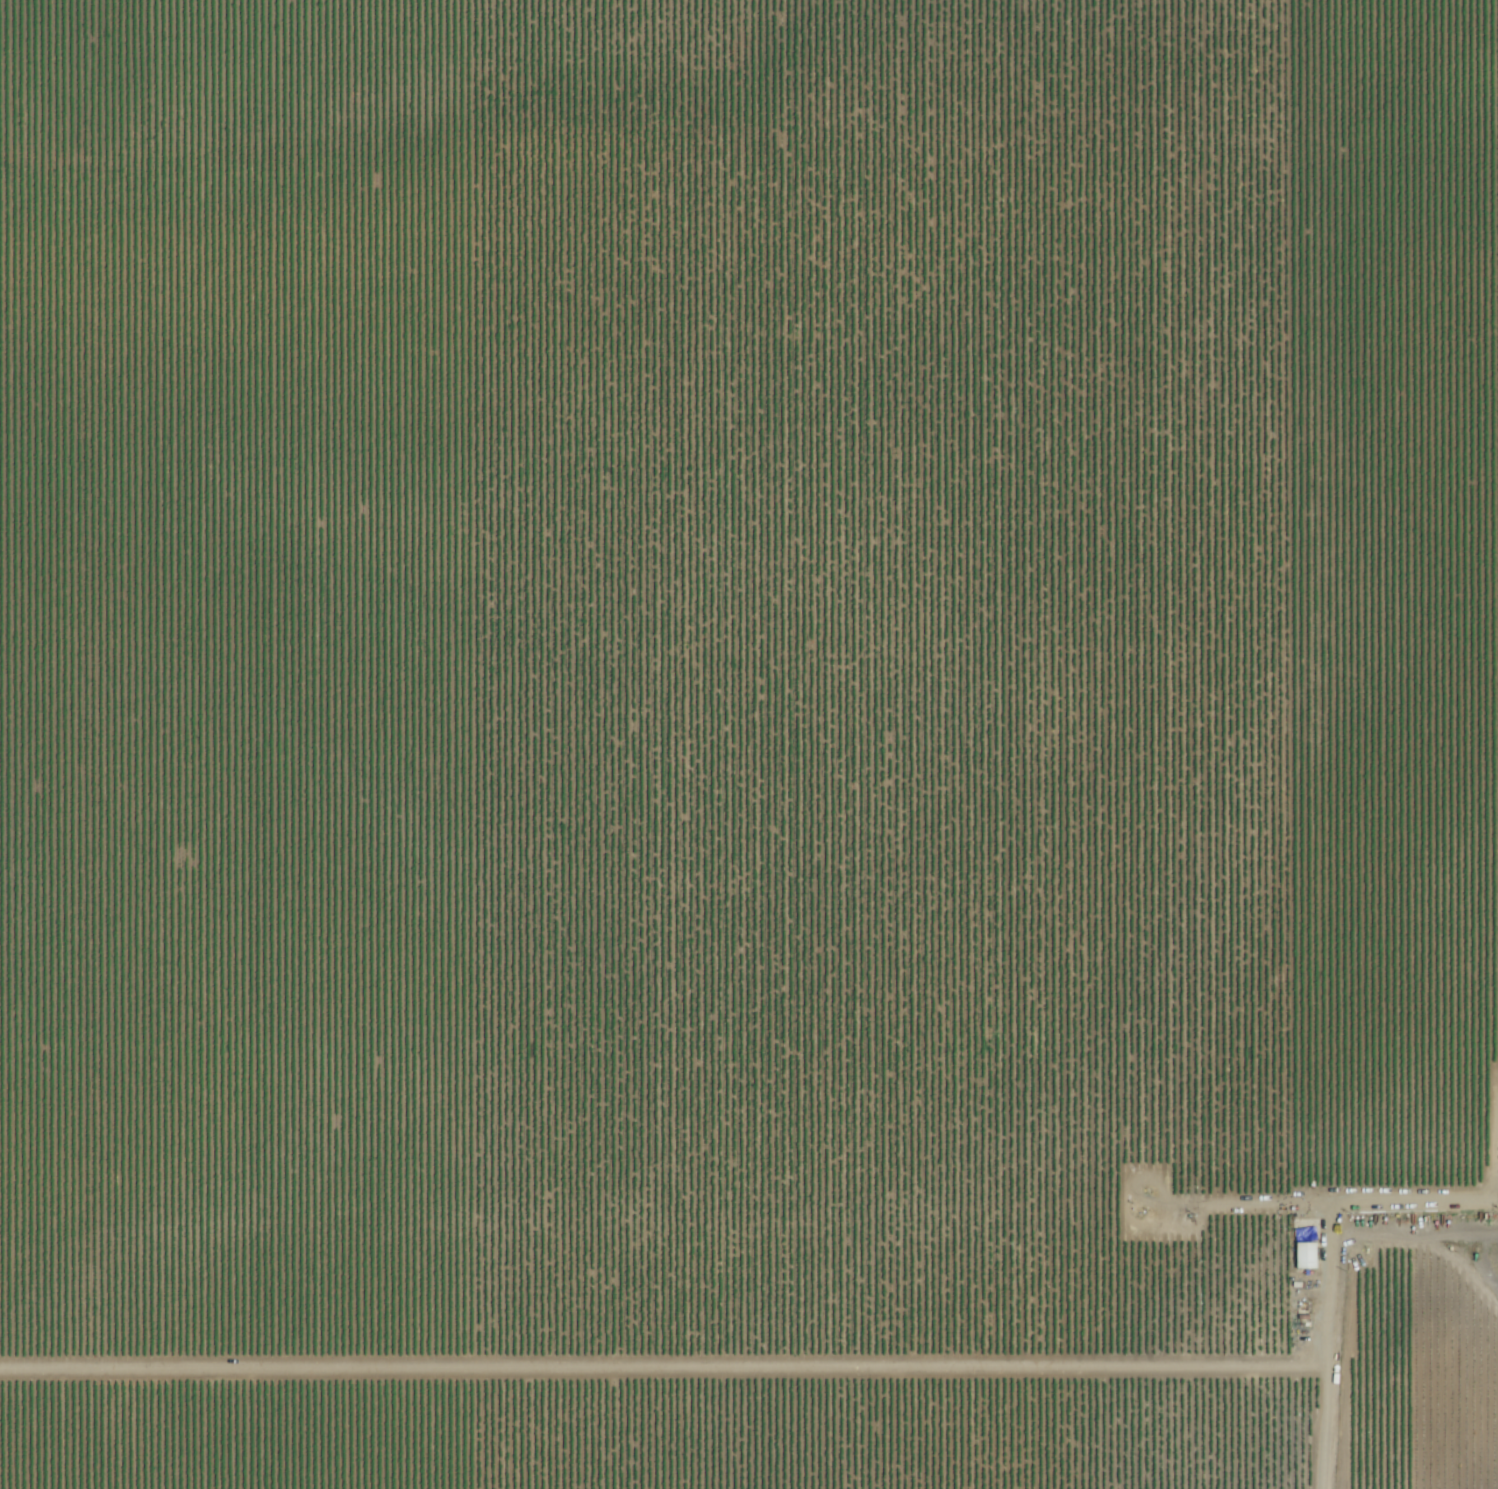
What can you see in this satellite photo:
building: (1308, 1255)

